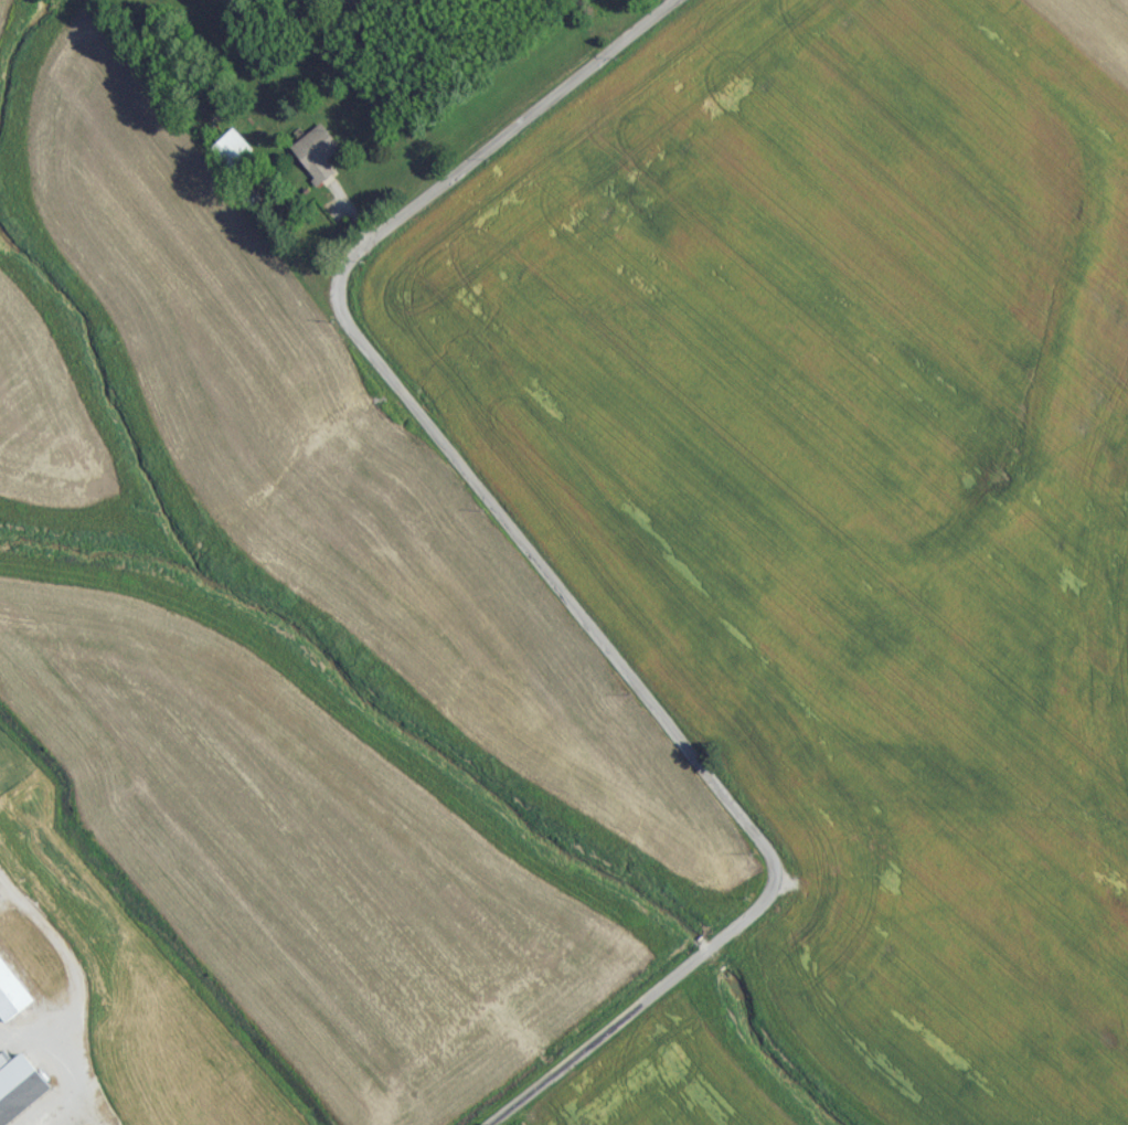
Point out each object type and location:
building: (227, 155)
building: (315, 164)
road: (529, 560)
building: (12, 1000)
building: (23, 1091)

